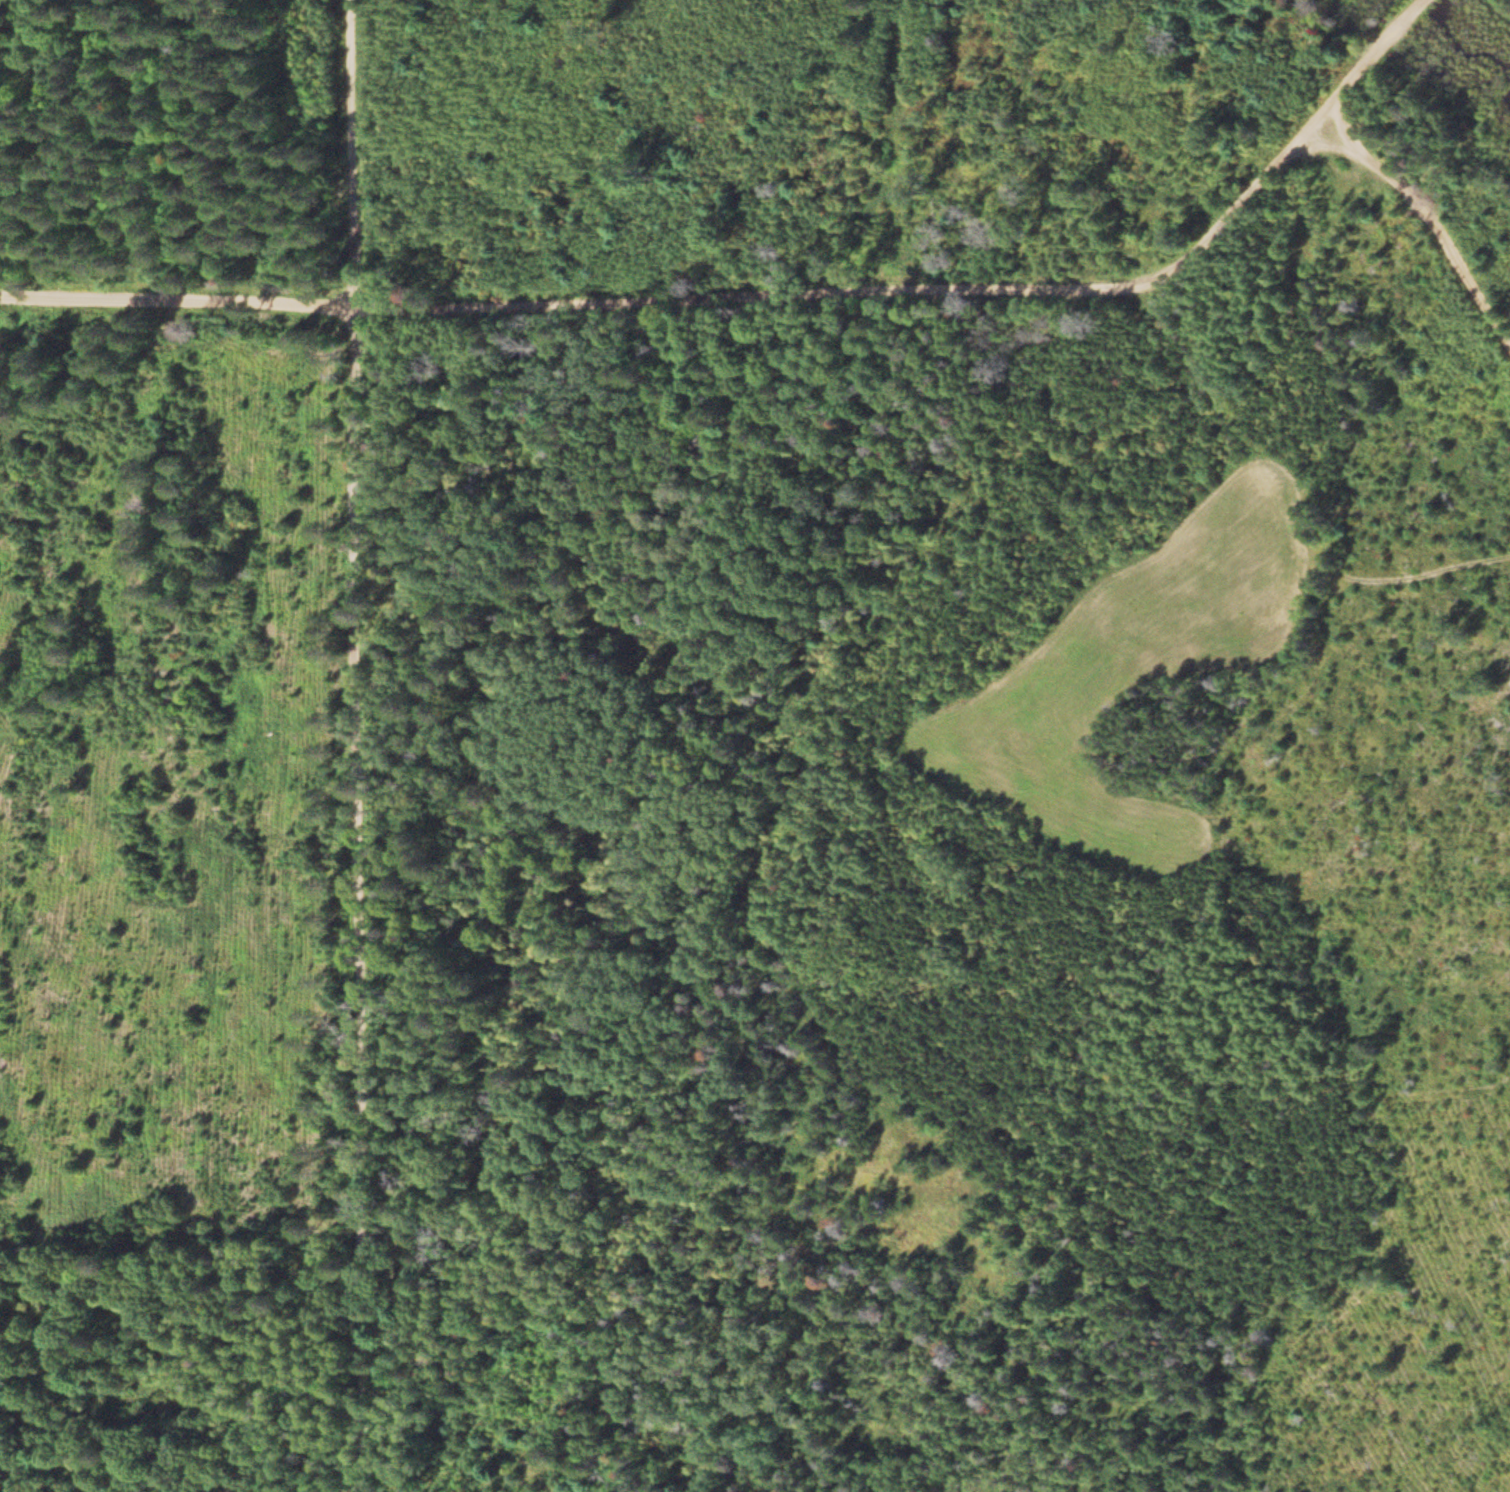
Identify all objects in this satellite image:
road: (1425, 206)
road: (954, 290)
road: (180, 299)
road: (364, 746)
road: (191, 1366)

